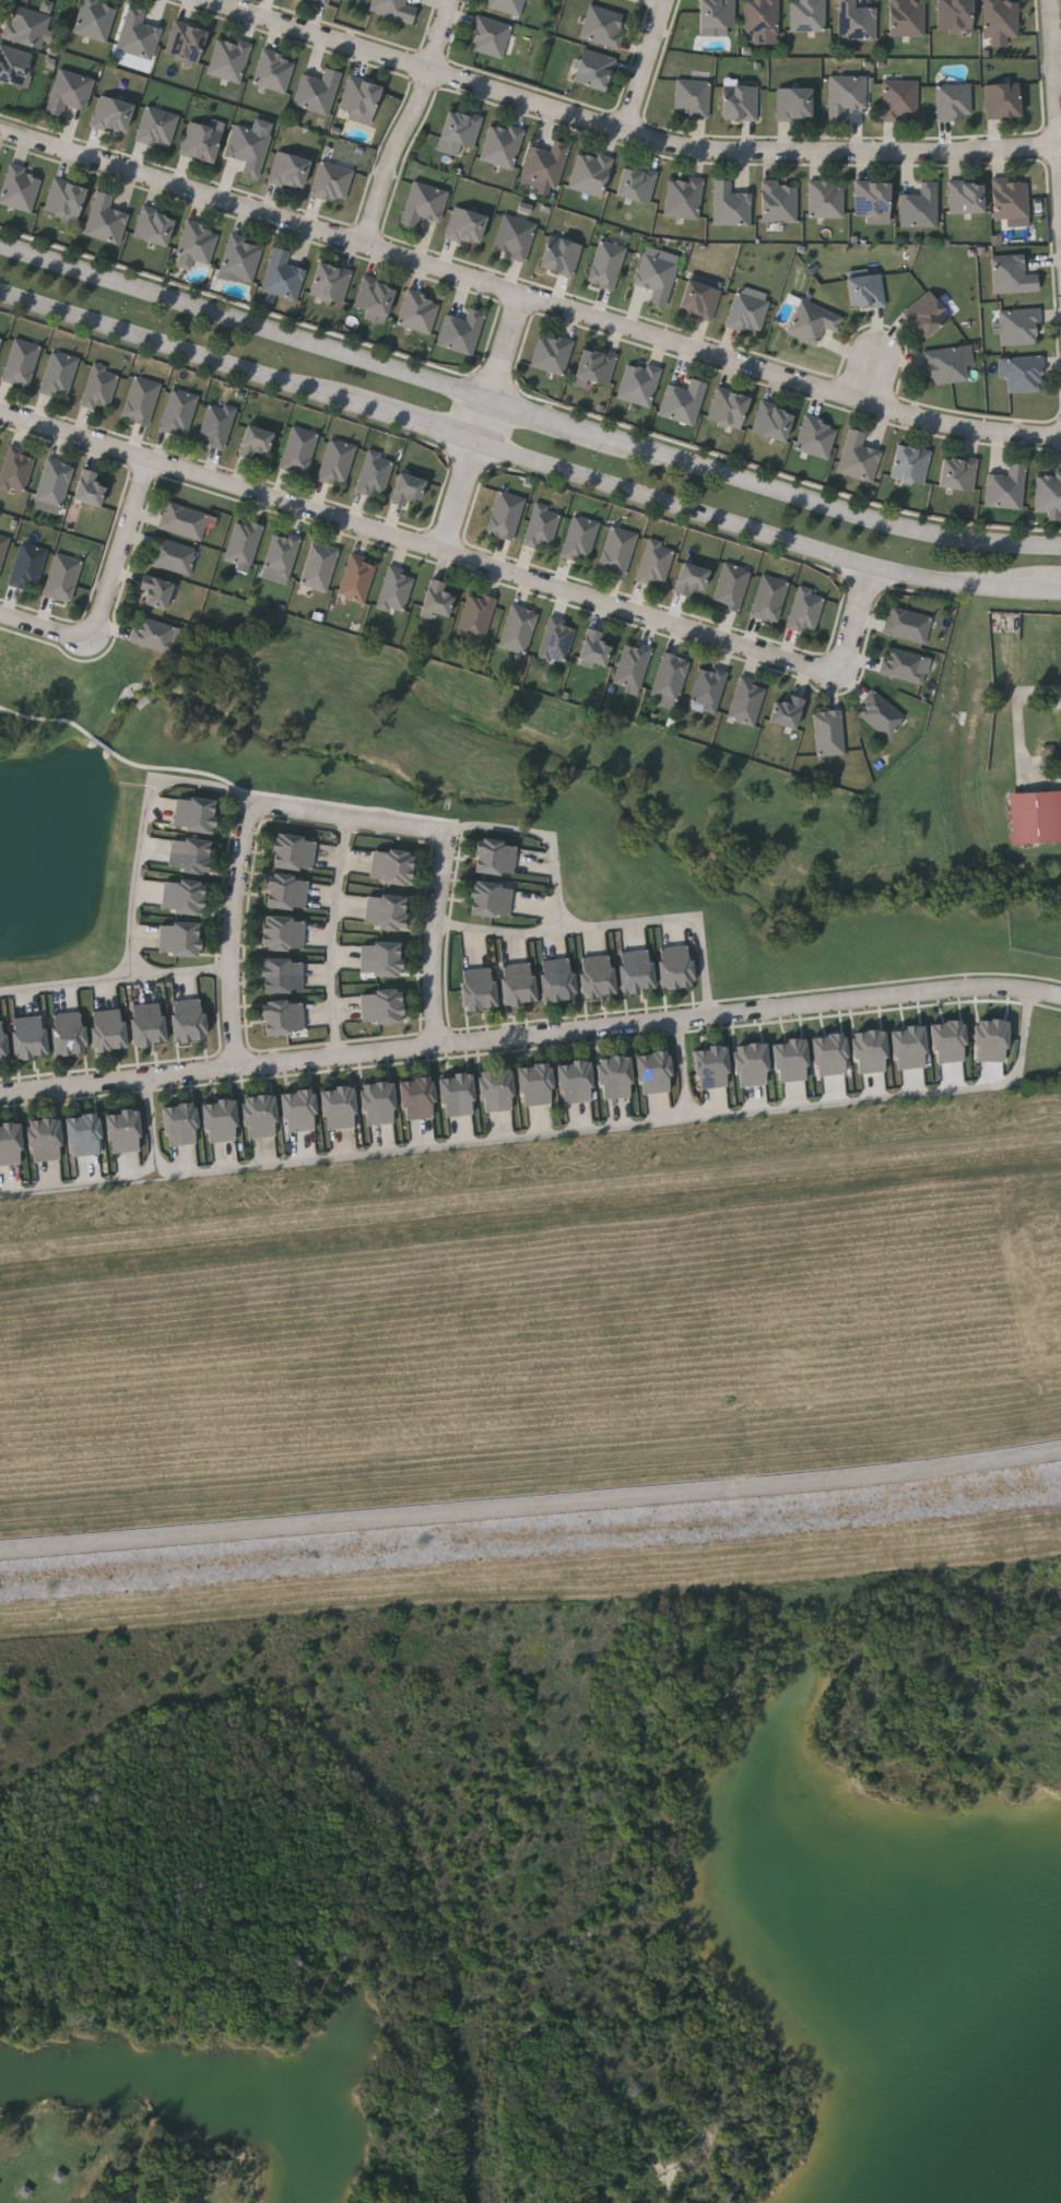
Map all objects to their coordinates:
building: (322, 1)
building: (506, 5)
building: (394, 9)
building: (717, 13)
building: (809, 15)
building: (955, 15)
building: (907, 17)
building: (96, 19)
building: (763, 19)
building: (1001, 21)
building: (857, 22)
building: (604, 26)
building: (28, 27)
building: (139, 35)
road: (317, 36)
building: (491, 37)
building: (187, 43)
building: (231, 60)
building: (14, 66)
road: (646, 66)
building: (594, 70)
building: (275, 72)
road: (1053, 89)
building: (319, 92)
building: (70, 93)
building: (847, 96)
building: (361, 98)
building: (693, 98)
building: (1003, 101)
building: (900, 102)
building: (955, 102)
building: (741, 103)
building: (795, 104)
building: (113, 115)
road: (411, 123)
building: (157, 128)
building: (459, 132)
building: (202, 141)
building: (250, 146)
building: (503, 146)
road: (740, 153)
building: (546, 164)
building: (290, 170)
building: (590, 174)
building: (332, 182)
building: (636, 184)
building: (21, 188)
building: (967, 197)
building: (684, 198)
building: (1012, 199)
building: (66, 200)
building: (826, 200)
building: (780, 202)
building: (873, 202)
building: (424, 204)
building: (731, 204)
building: (921, 208)
road: (262, 213)
building: (106, 221)
building: (154, 226)
building: (465, 226)
building: (516, 237)
building: (199, 243)
building: (562, 256)
building: (243, 259)
building: (608, 264)
building: (658, 273)
building: (1013, 275)
building: (283, 276)
building: (330, 283)
building: (865, 292)
building: (375, 296)
building: (699, 299)
building: (750, 309)
building: (420, 313)
building: (928, 315)
road: (247, 318)
building: (813, 321)
building: (1021, 327)
building: (462, 332)
building: (0, 334)
building: (0, 340)
road: (509, 346)
road: (178, 347)
building: (552, 353)
building: (20, 362)
building: (597, 366)
building: (947, 366)
building: (58, 373)
building: (1025, 374)
road: (791, 377)
road: (870, 379)
building: (639, 384)
building: (99, 387)
building: (140, 400)
building: (684, 402)
building: (729, 408)
building: (178, 412)
road: (549, 414)
road: (485, 419)
building: (774, 422)
road: (417, 423)
building: (215, 424)
building: (816, 437)
building: (254, 441)
building: (298, 450)
building: (859, 458)
building: (337, 461)
building: (910, 466)
building: (15, 469)
building: (374, 473)
building: (958, 473)
building: (54, 482)
building: (87, 488)
building: (405, 488)
building: (1006, 488)
building: (1048, 493)
road: (460, 496)
road: (829, 505)
building: (505, 516)
building: (182, 521)
building: (541, 528)
road: (765, 533)
building: (579, 539)
road: (125, 541)
building: (243, 542)
road: (418, 544)
building: (3, 546)
building: (617, 551)
building: (280, 554)
building: (172, 556)
building: (655, 563)
building: (318, 566)
building: (26, 567)
building: (61, 577)
building: (355, 579)
building: (691, 579)
building: (731, 586)
building: (394, 589)
road: (1060, 591)
building: (155, 592)
building: (436, 598)
building: (768, 598)
building: (805, 610)
building: (475, 616)
road: (854, 622)
building: (906, 624)
building: (517, 628)
road: (48, 631)
building: (156, 635)
building: (556, 640)
building: (593, 648)
building: (901, 664)
building: (632, 665)
building: (670, 676)
building: (707, 691)
building: (745, 702)
building: (785, 711)
building: (880, 714)
building: (1060, 716)
road: (1019, 719)
building: (828, 732)
building: (194, 815)
building: (1035, 817)
road: (445, 849)
building: (293, 853)
building: (189, 856)
building: (495, 858)
building: (391, 868)
building: (286, 893)
road: (562, 893)
road: (140, 895)
building: (182, 897)
building: (490, 899)
building: (385, 912)
road: (677, 918)
road: (232, 931)
building: (283, 934)
road: (341, 936)
building: (179, 940)
building: (380, 959)
building: (675, 967)
building: (636, 970)
road: (182, 976)
building: (283, 976)
building: (597, 976)
building: (556, 980)
building: (518, 985)
building: (479, 989)
building: (381, 1006)
building: (283, 1018)
building: (188, 1021)
building: (148, 1025)
building: (107, 1030)
building: (68, 1034)
road: (530, 1035)
building: (30, 1037)
building: (990, 1039)
building: (947, 1041)
building: (2, 1044)
building: (908, 1047)
building: (869, 1051)
building: (829, 1055)
building: (789, 1060)
building: (751, 1063)
building: (710, 1068)
road: (686, 1070)
building: (653, 1073)
building: (615, 1077)
building: (576, 1083)
building: (535, 1085)
building: (497, 1091)
building: (457, 1096)
building: (417, 1099)
building: (378, 1105)
building: (339, 1109)
building: (298, 1111)
building: (260, 1117)
building: (220, 1122)
building: (180, 1126)
road: (156, 1128)
building: (123, 1132)
road: (556, 1135)
building: (83, 1136)
building: (45, 1141)
building: (10, 1145)
road: (531, 1507)
park: (483, 1858)
park: (122, 2159)

